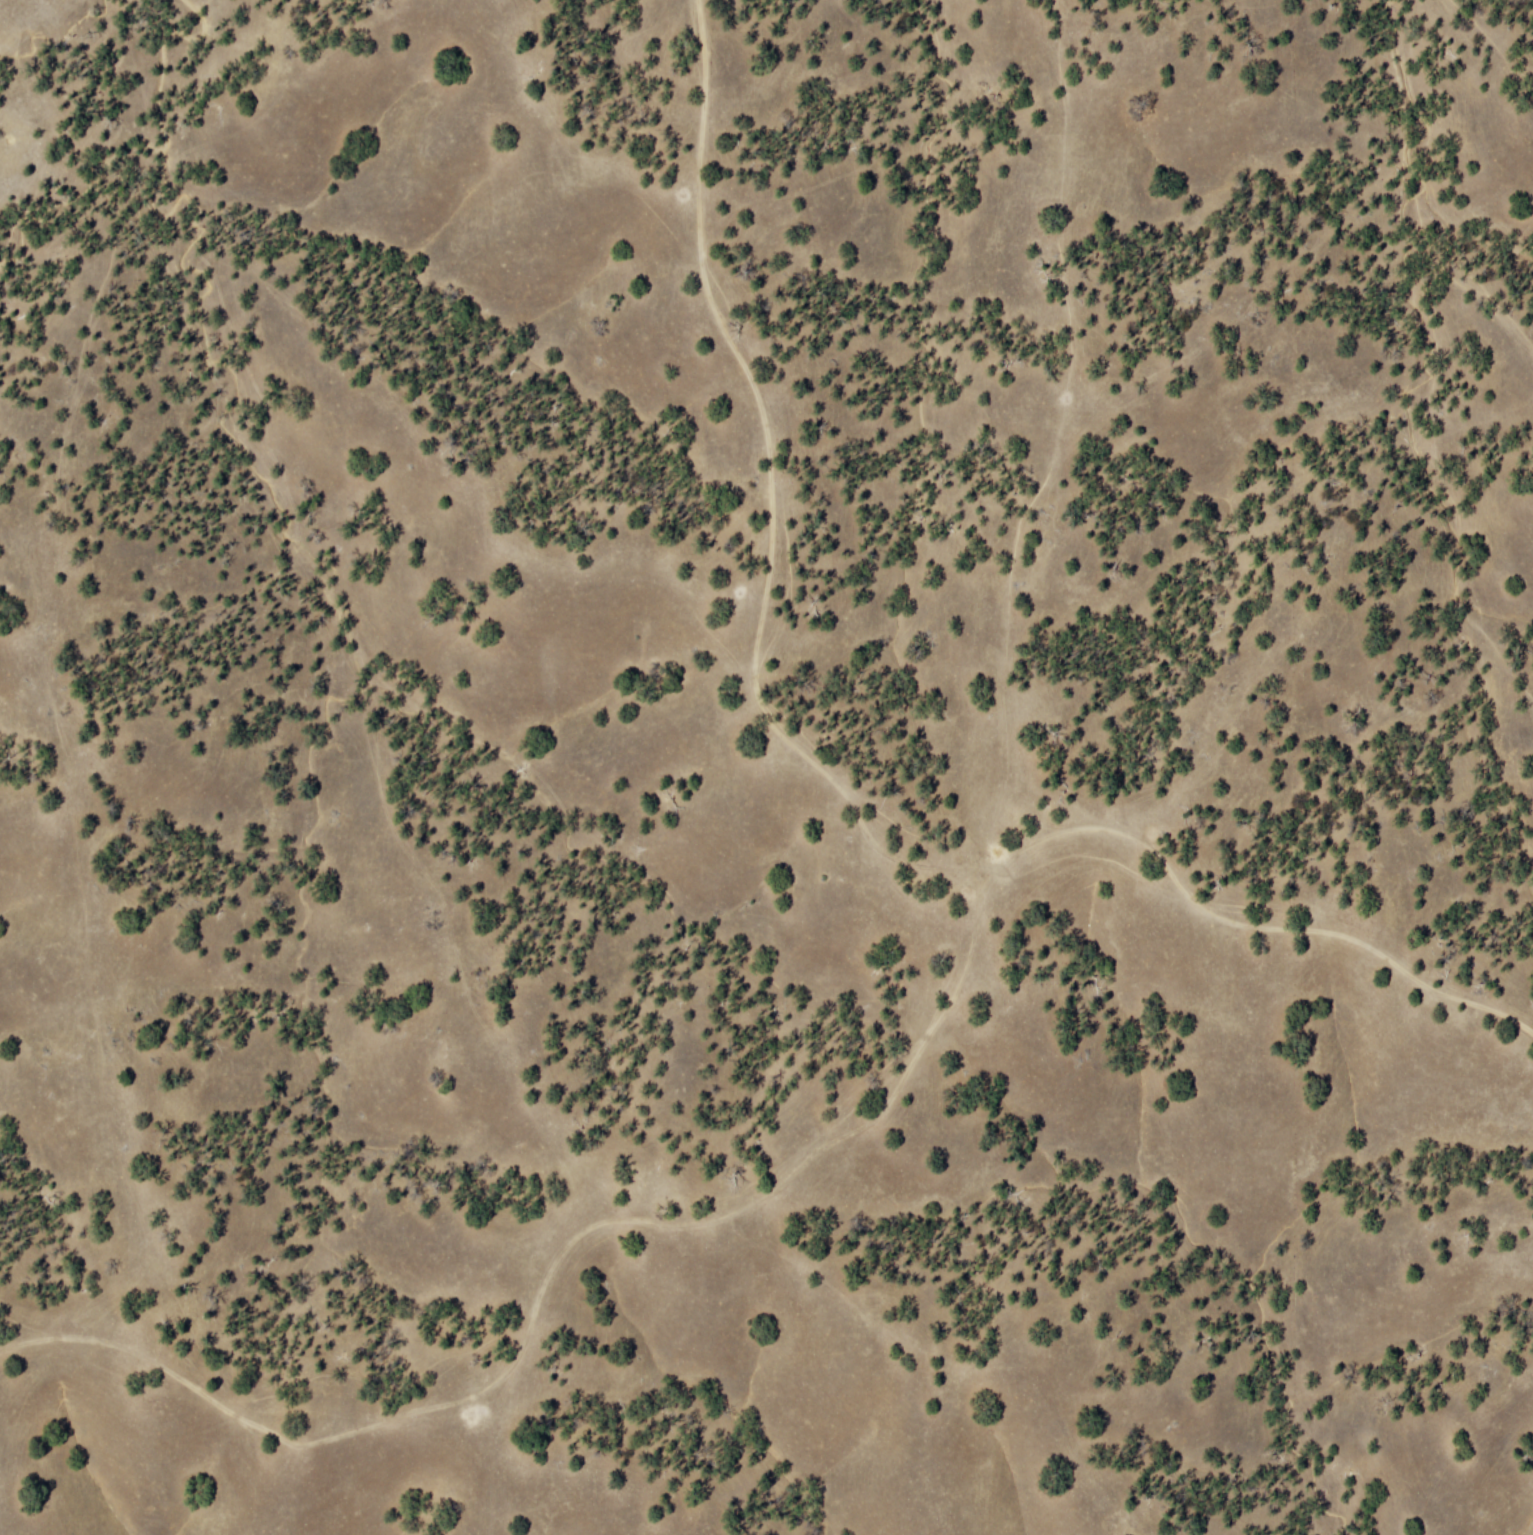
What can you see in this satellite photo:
road: (772, 503)
road: (1261, 924)

